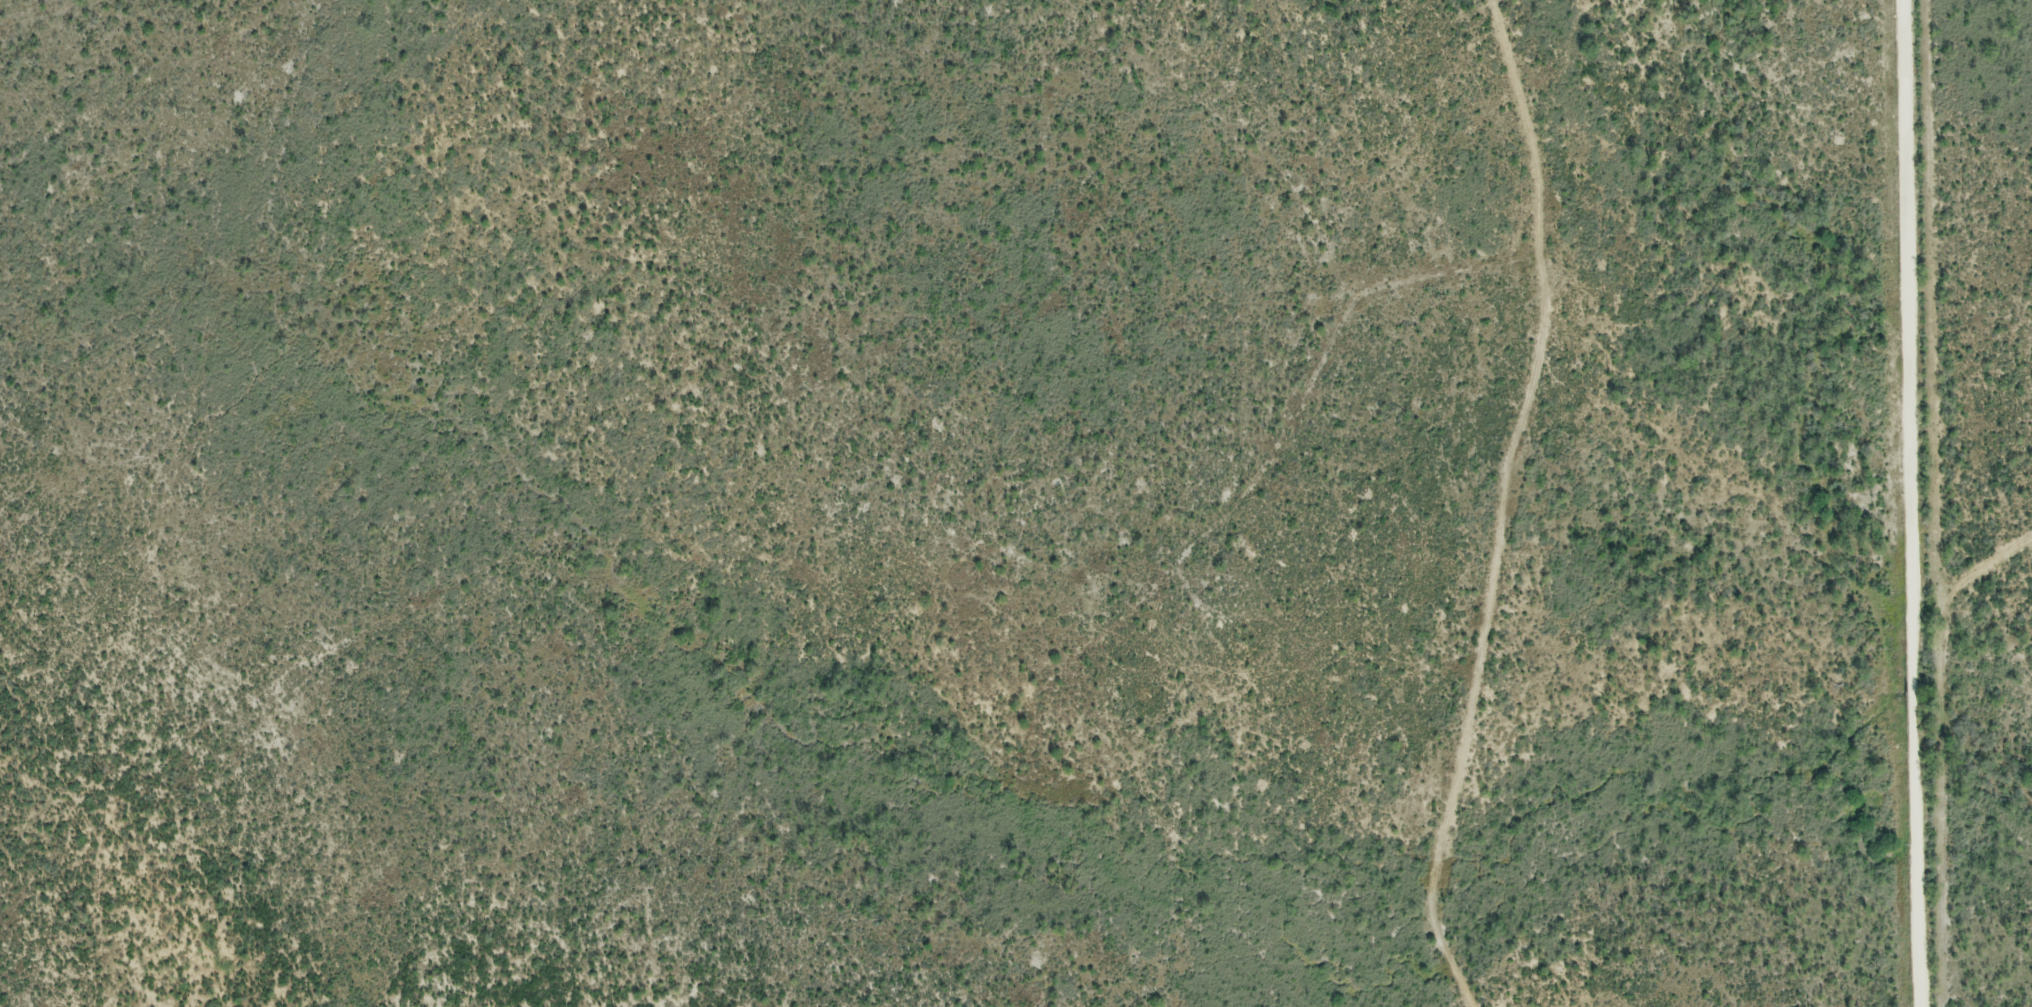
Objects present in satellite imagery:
road: (1912, 503)

